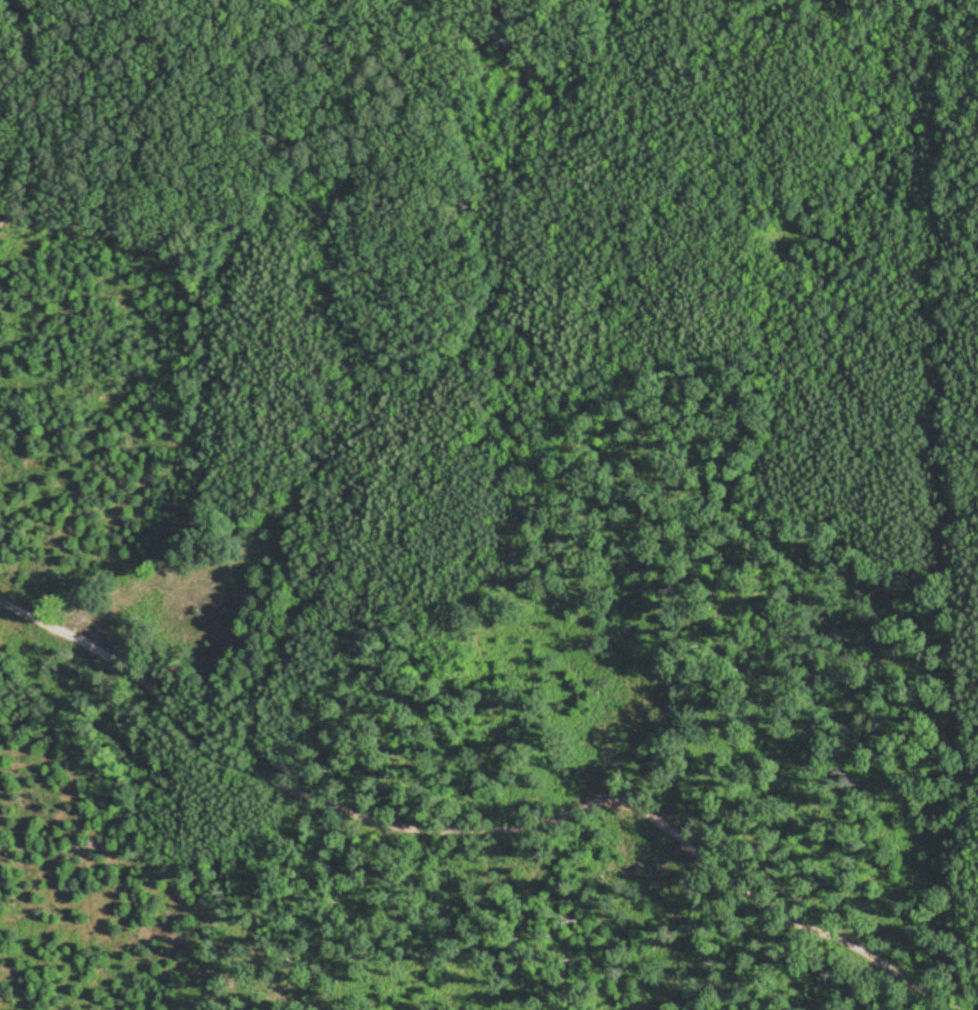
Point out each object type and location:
road: (484, 828)

